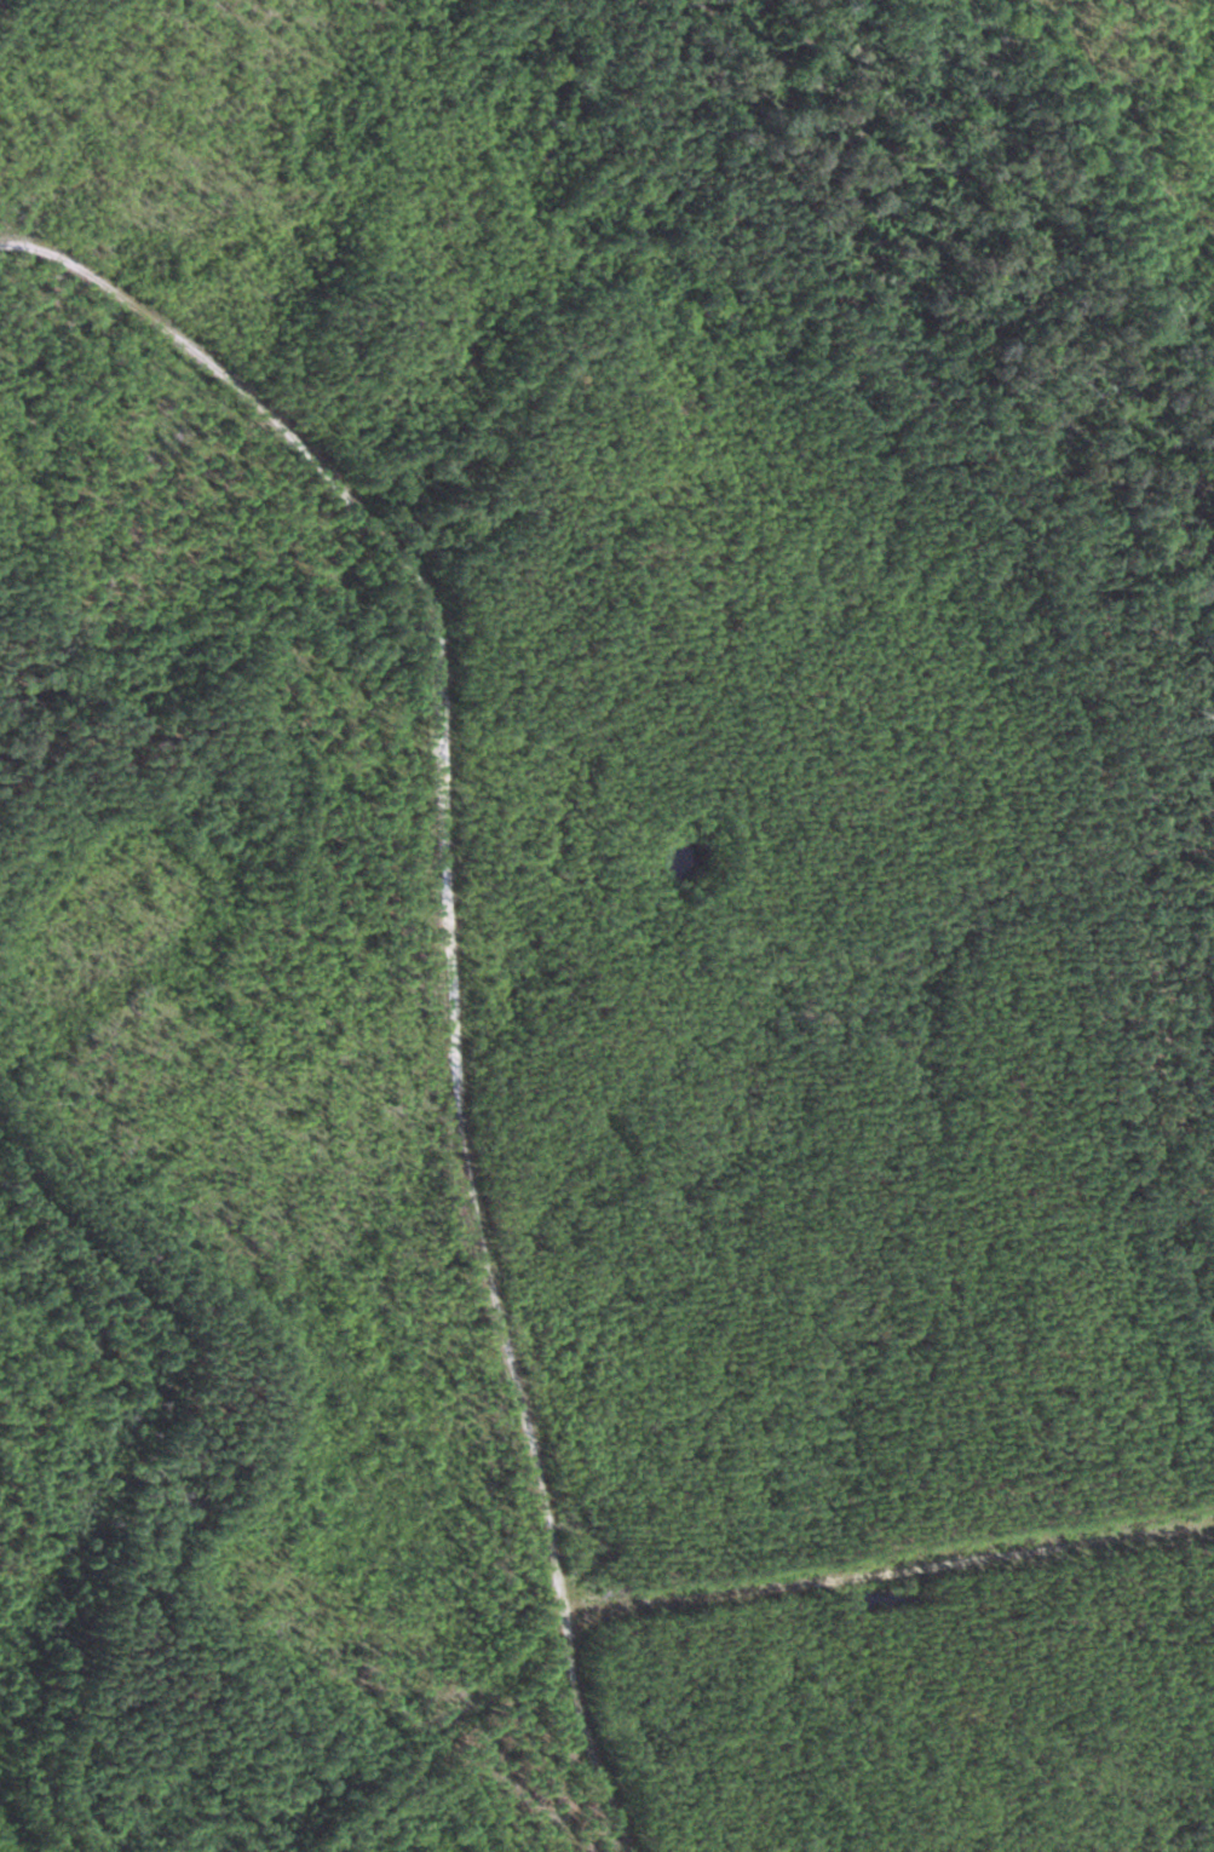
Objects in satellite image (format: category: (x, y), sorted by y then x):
road: (443, 945)

